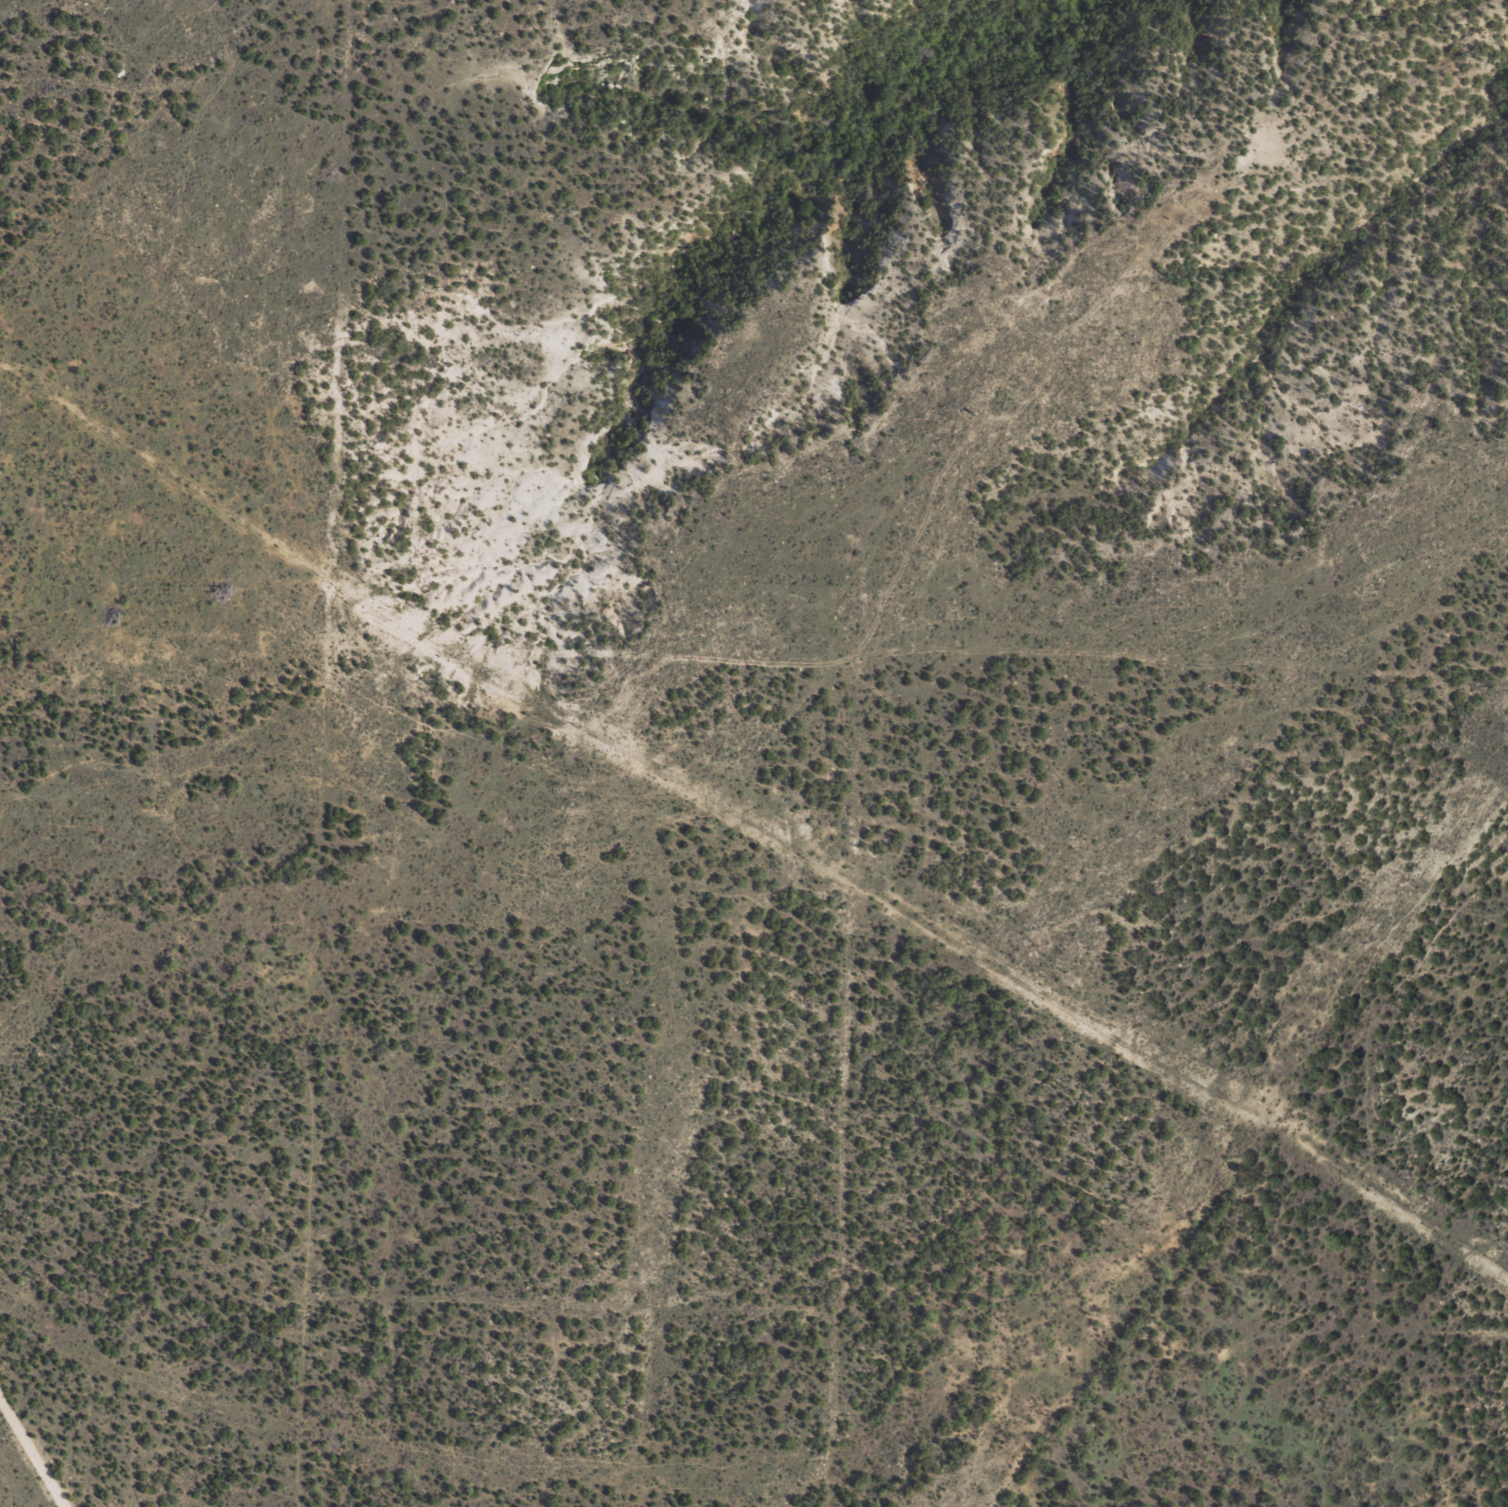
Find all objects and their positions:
road: (29, 1456)

